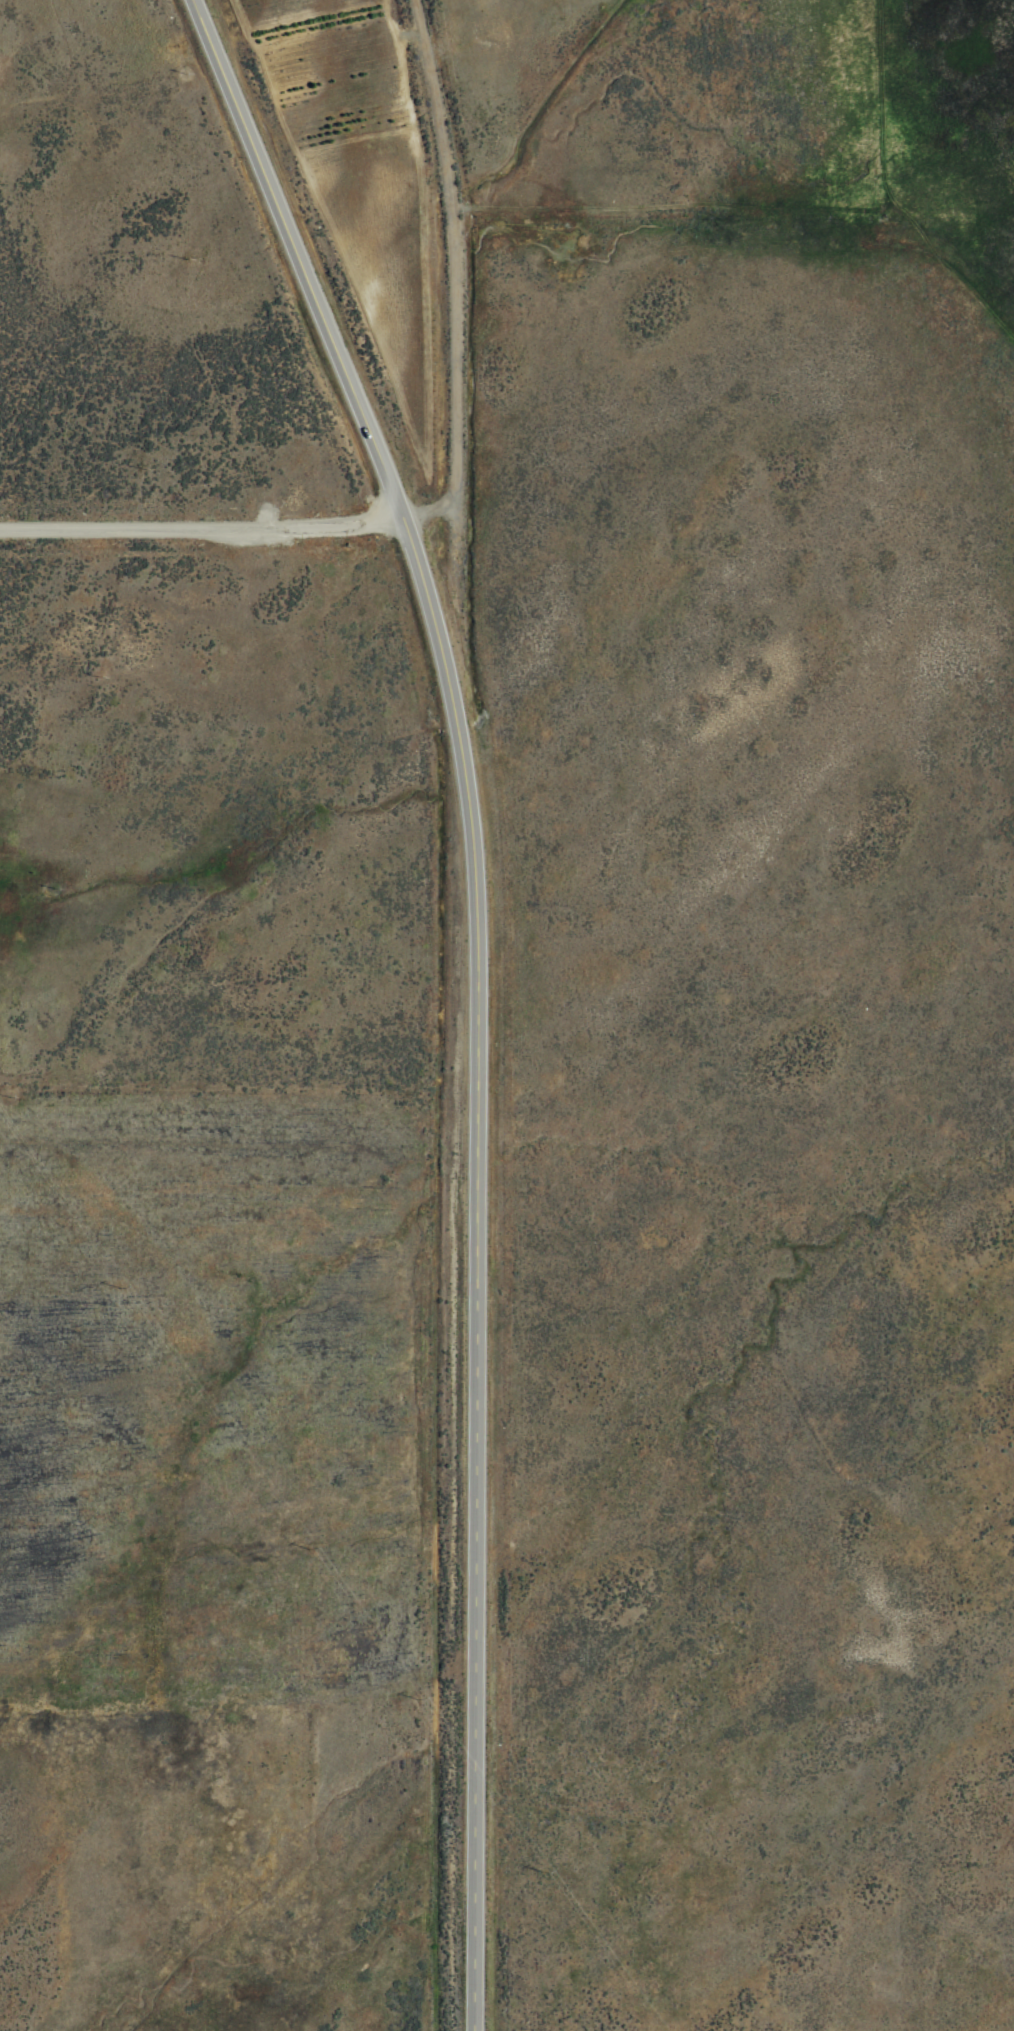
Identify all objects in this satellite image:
road: (474, 989)
crop: (509, 1097)

